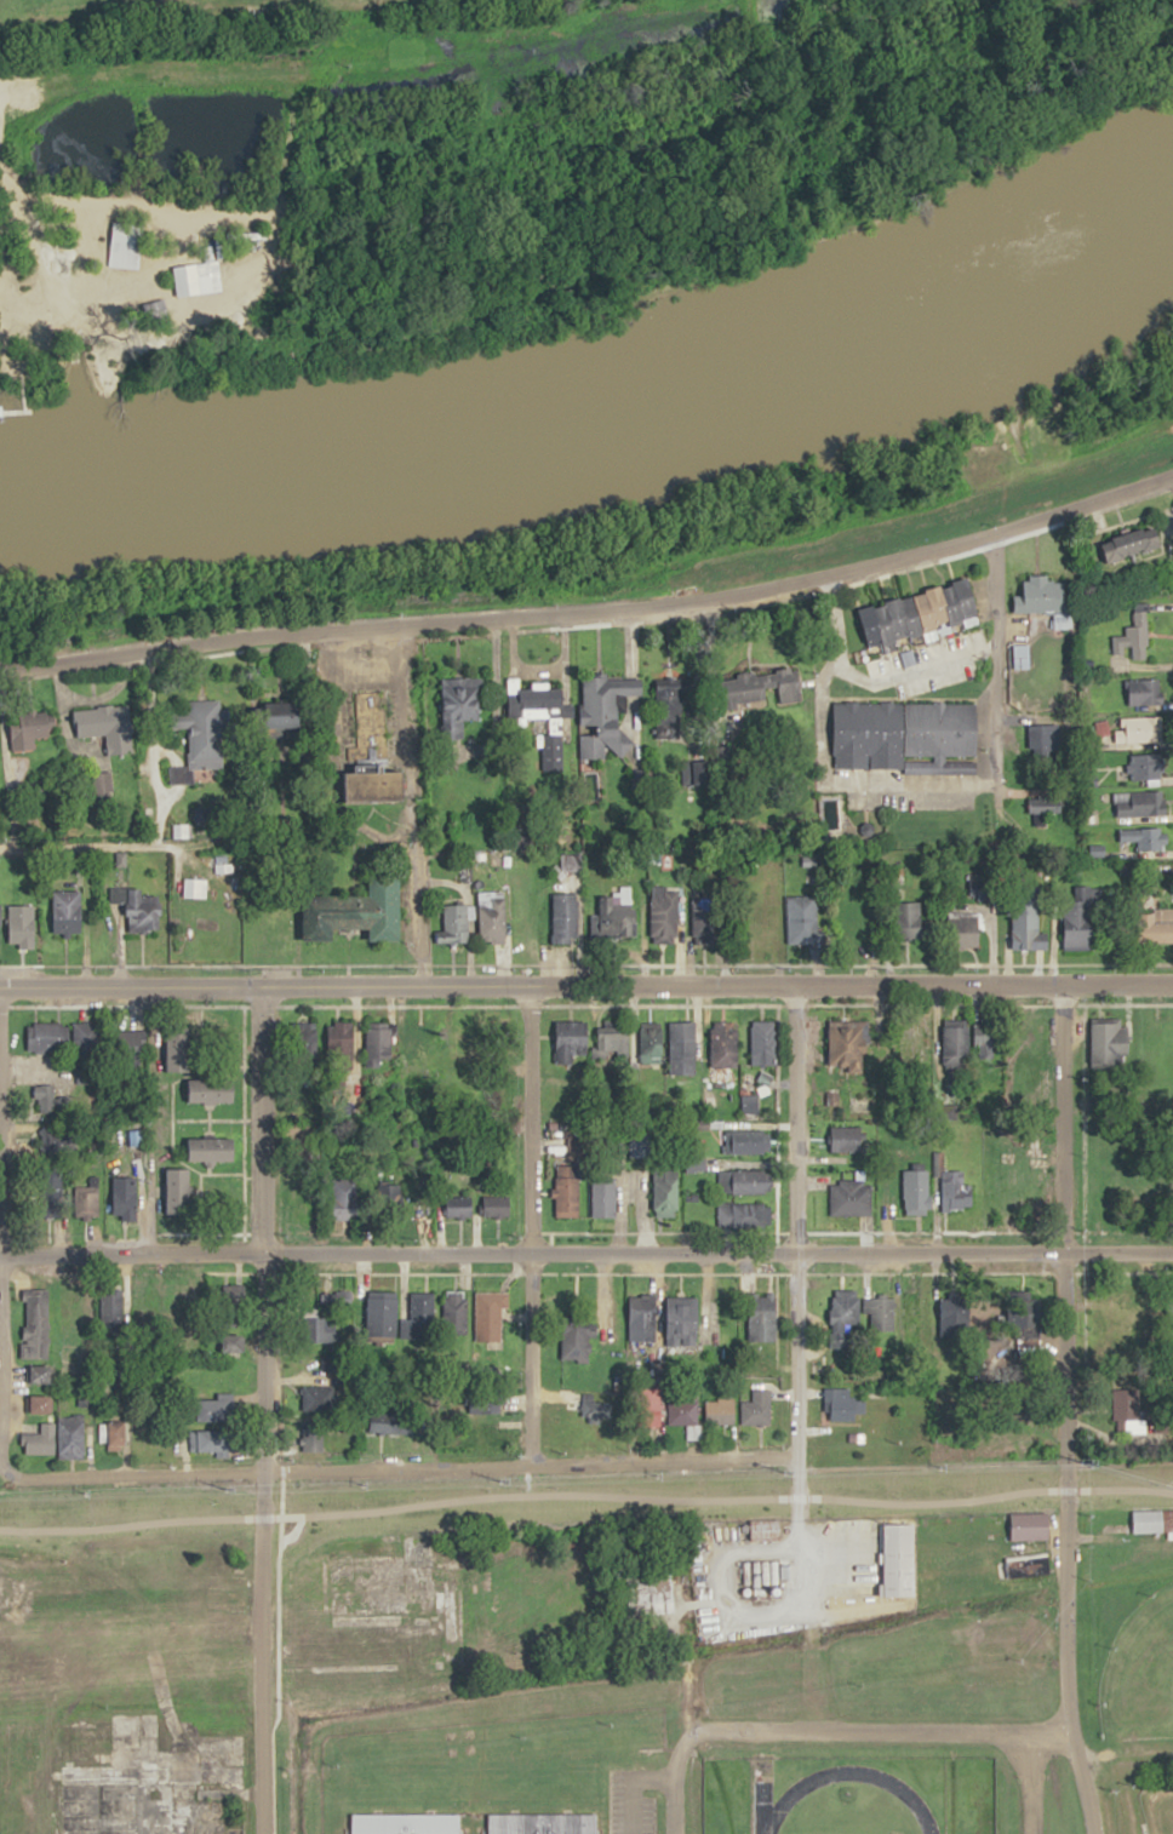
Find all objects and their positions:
building: (125, 237)
building: (193, 281)
building: (156, 310)
river: (602, 399)
road: (1172, 488)
building: (1137, 544)
building: (1042, 596)
building: (921, 613)
road: (594, 614)
building: (1137, 637)
building: (1023, 655)
road: (986, 669)
building: (761, 689)
building: (1143, 692)
building: (543, 699)
building: (464, 703)
building: (675, 707)
building: (607, 713)
building: (109, 727)
building: (32, 728)
building: (1144, 729)
building: (206, 734)
building: (906, 737)
building: (1047, 741)
building: (1146, 767)
building: (1139, 803)
building: (1045, 804)
building: (1141, 839)
building: (195, 888)
building: (983, 892)
building: (360, 911)
building: (67, 912)
building: (144, 912)
building: (852, 913)
building: (665, 915)
building: (493, 917)
building: (565, 918)
building: (614, 918)
building: (803, 918)
building: (1080, 918)
building: (703, 921)
building: (281, 922)
building: (456, 923)
building: (920, 923)
building: (22, 925)
building: (1028, 927)
building: (1156, 929)
building: (966, 930)
road: (585, 985)
building: (47, 1036)
building: (342, 1037)
building: (379, 1038)
building: (681, 1039)
building: (571, 1041)
building: (613, 1041)
building: (650, 1041)
building: (763, 1042)
building: (988, 1042)
building: (723, 1043)
building: (1109, 1043)
building: (956, 1044)
building: (130, 1047)
building: (856, 1047)
building: (181, 1049)
building: (86, 1053)
building: (214, 1088)
building: (46, 1096)
building: (846, 1137)
building: (746, 1141)
building: (211, 1147)
building: (742, 1181)
building: (915, 1188)
building: (951, 1188)
building: (179, 1190)
building: (567, 1190)
building: (666, 1192)
building: (391, 1194)
building: (603, 1194)
building: (125, 1197)
building: (849, 1197)
building: (344, 1203)
building: (476, 1205)
building: (743, 1214)
road: (528, 1225)
road: (259, 1227)
road: (794, 1234)
road: (586, 1253)
building: (454, 1309)
building: (420, 1312)
building: (642, 1312)
building: (490, 1314)
building: (382, 1316)
building: (762, 1317)
building: (842, 1318)
building: (682, 1323)
building: (35, 1332)
building: (233, 1342)
building: (576, 1342)
building: (41, 1403)
building: (485, 1403)
building: (842, 1404)
building: (755, 1406)
building: (211, 1410)
building: (594, 1410)
building: (681, 1410)
building: (719, 1410)
road: (1064, 1410)
building: (389, 1421)
building: (116, 1433)
building: (311, 1437)
building: (55, 1438)
building: (210, 1439)
building: (486, 1439)
road: (393, 1468)
building: (1151, 1521)
building: (1028, 1526)
building: (766, 1529)
building: (900, 1558)
building: (990, 1568)
building: (765, 1577)
gas station: (765, 1577)
road: (809, 1607)
road: (258, 1651)
park: (1138, 1669)
road: (826, 1732)
road: (270, 1781)
road: (1025, 1783)
road: (630, 1786)
parking lot: (613, 1801)
track: (840, 1805)
park: (1160, 1810)
parking lot: (645, 1816)
building: (406, 1823)
building: (543, 1823)

